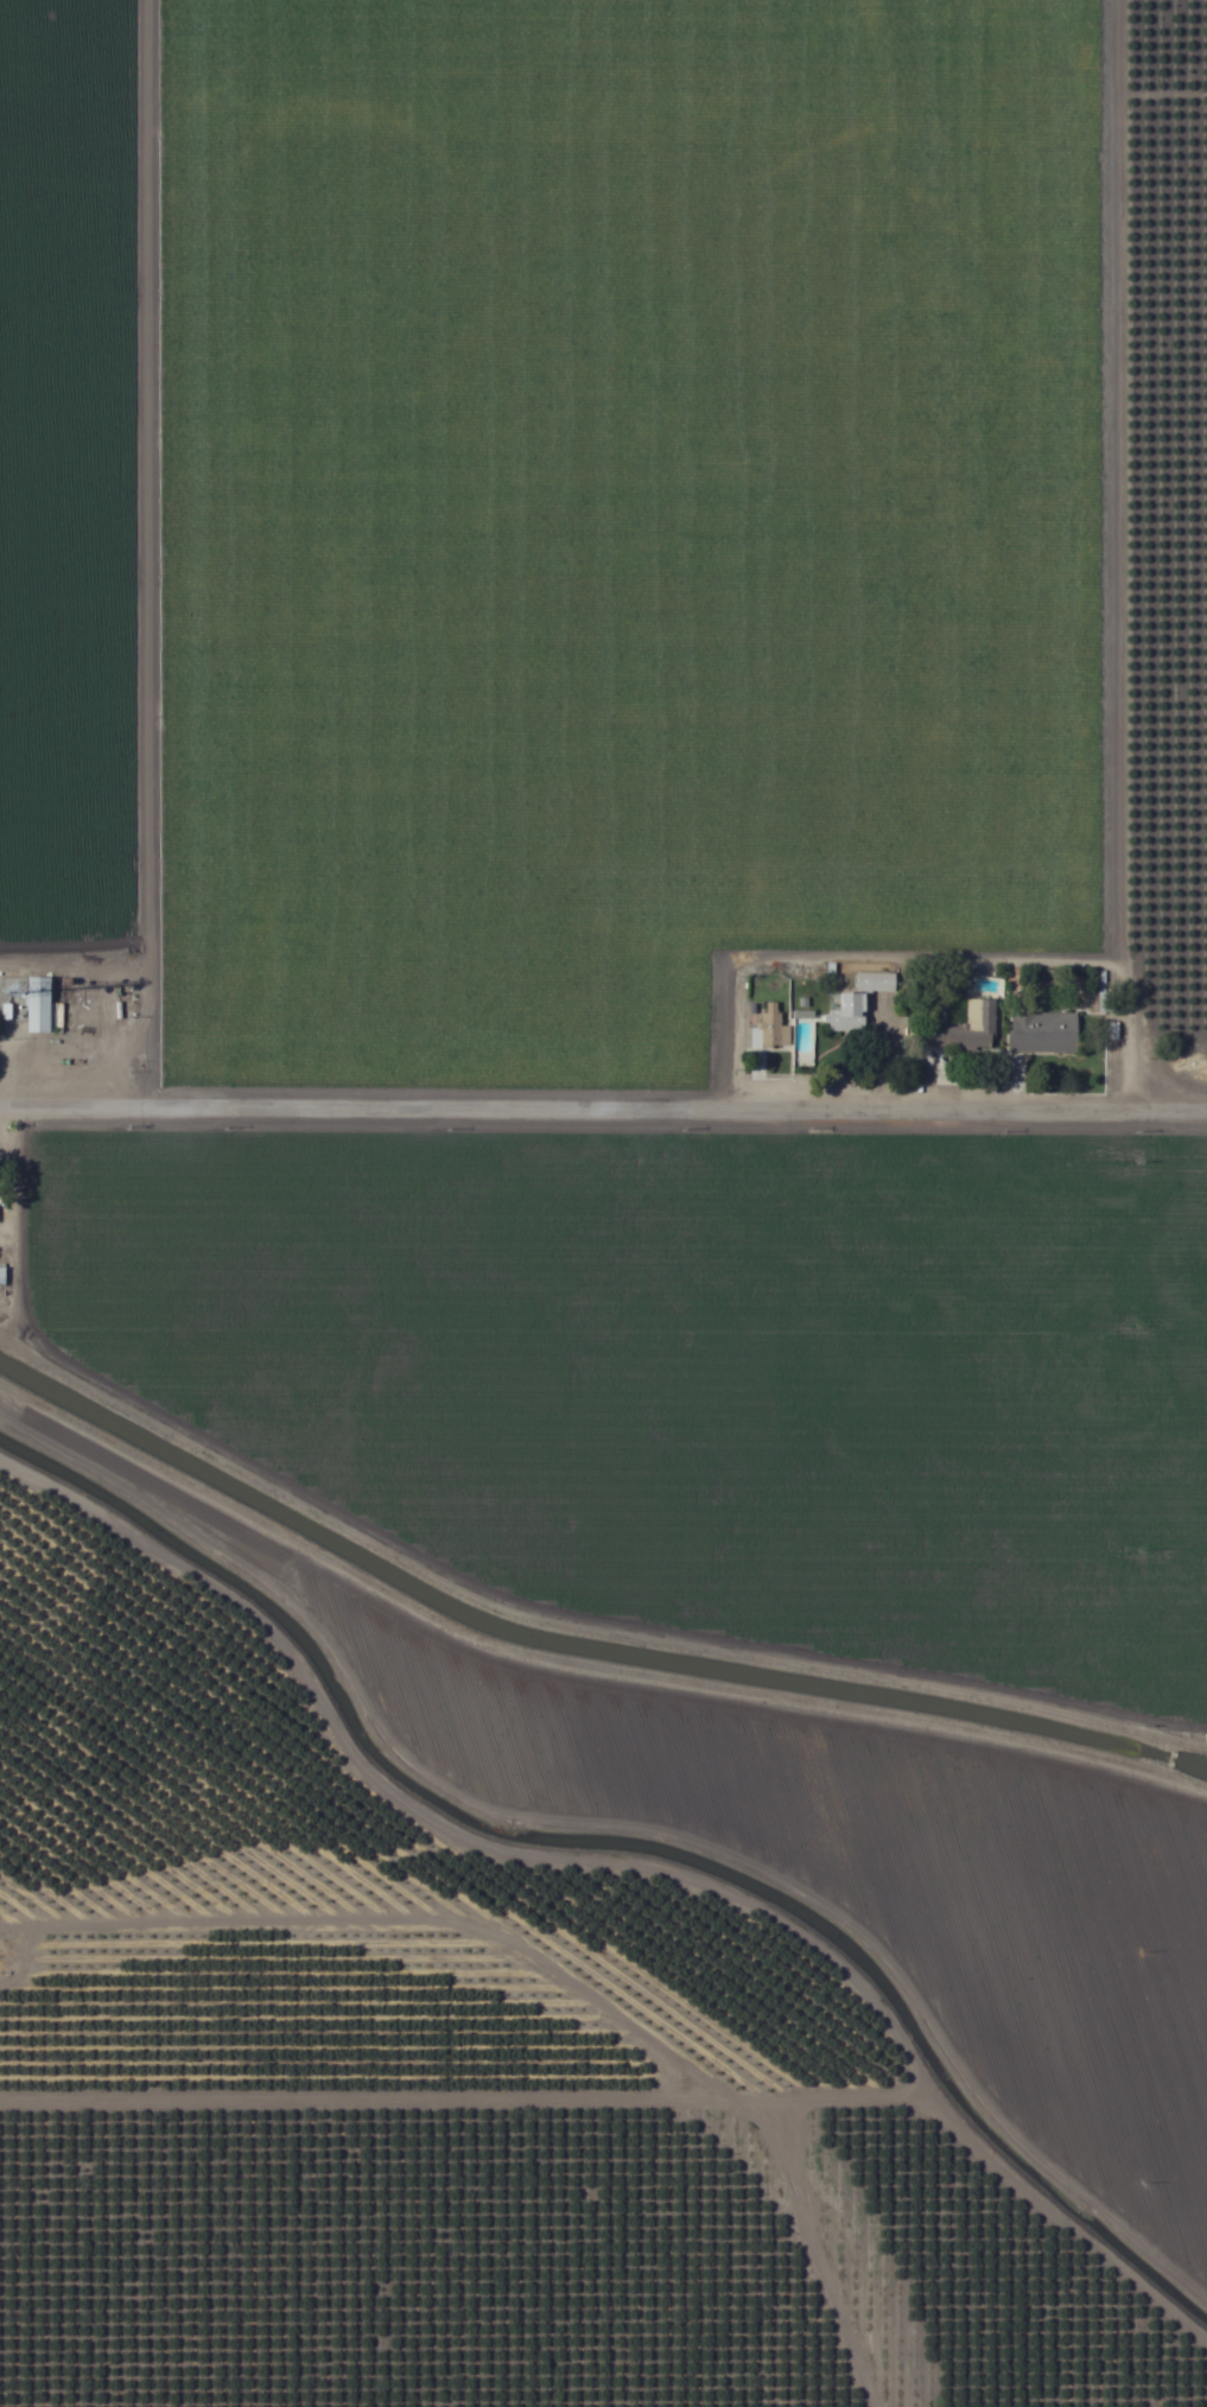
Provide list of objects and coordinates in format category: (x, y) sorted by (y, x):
building: (857, 1002)
building: (44, 1005)
building: (770, 1025)
building: (970, 1028)
building: (1046, 1033)
road: (603, 1084)
crop: (603, 1203)
road: (539, 1993)

